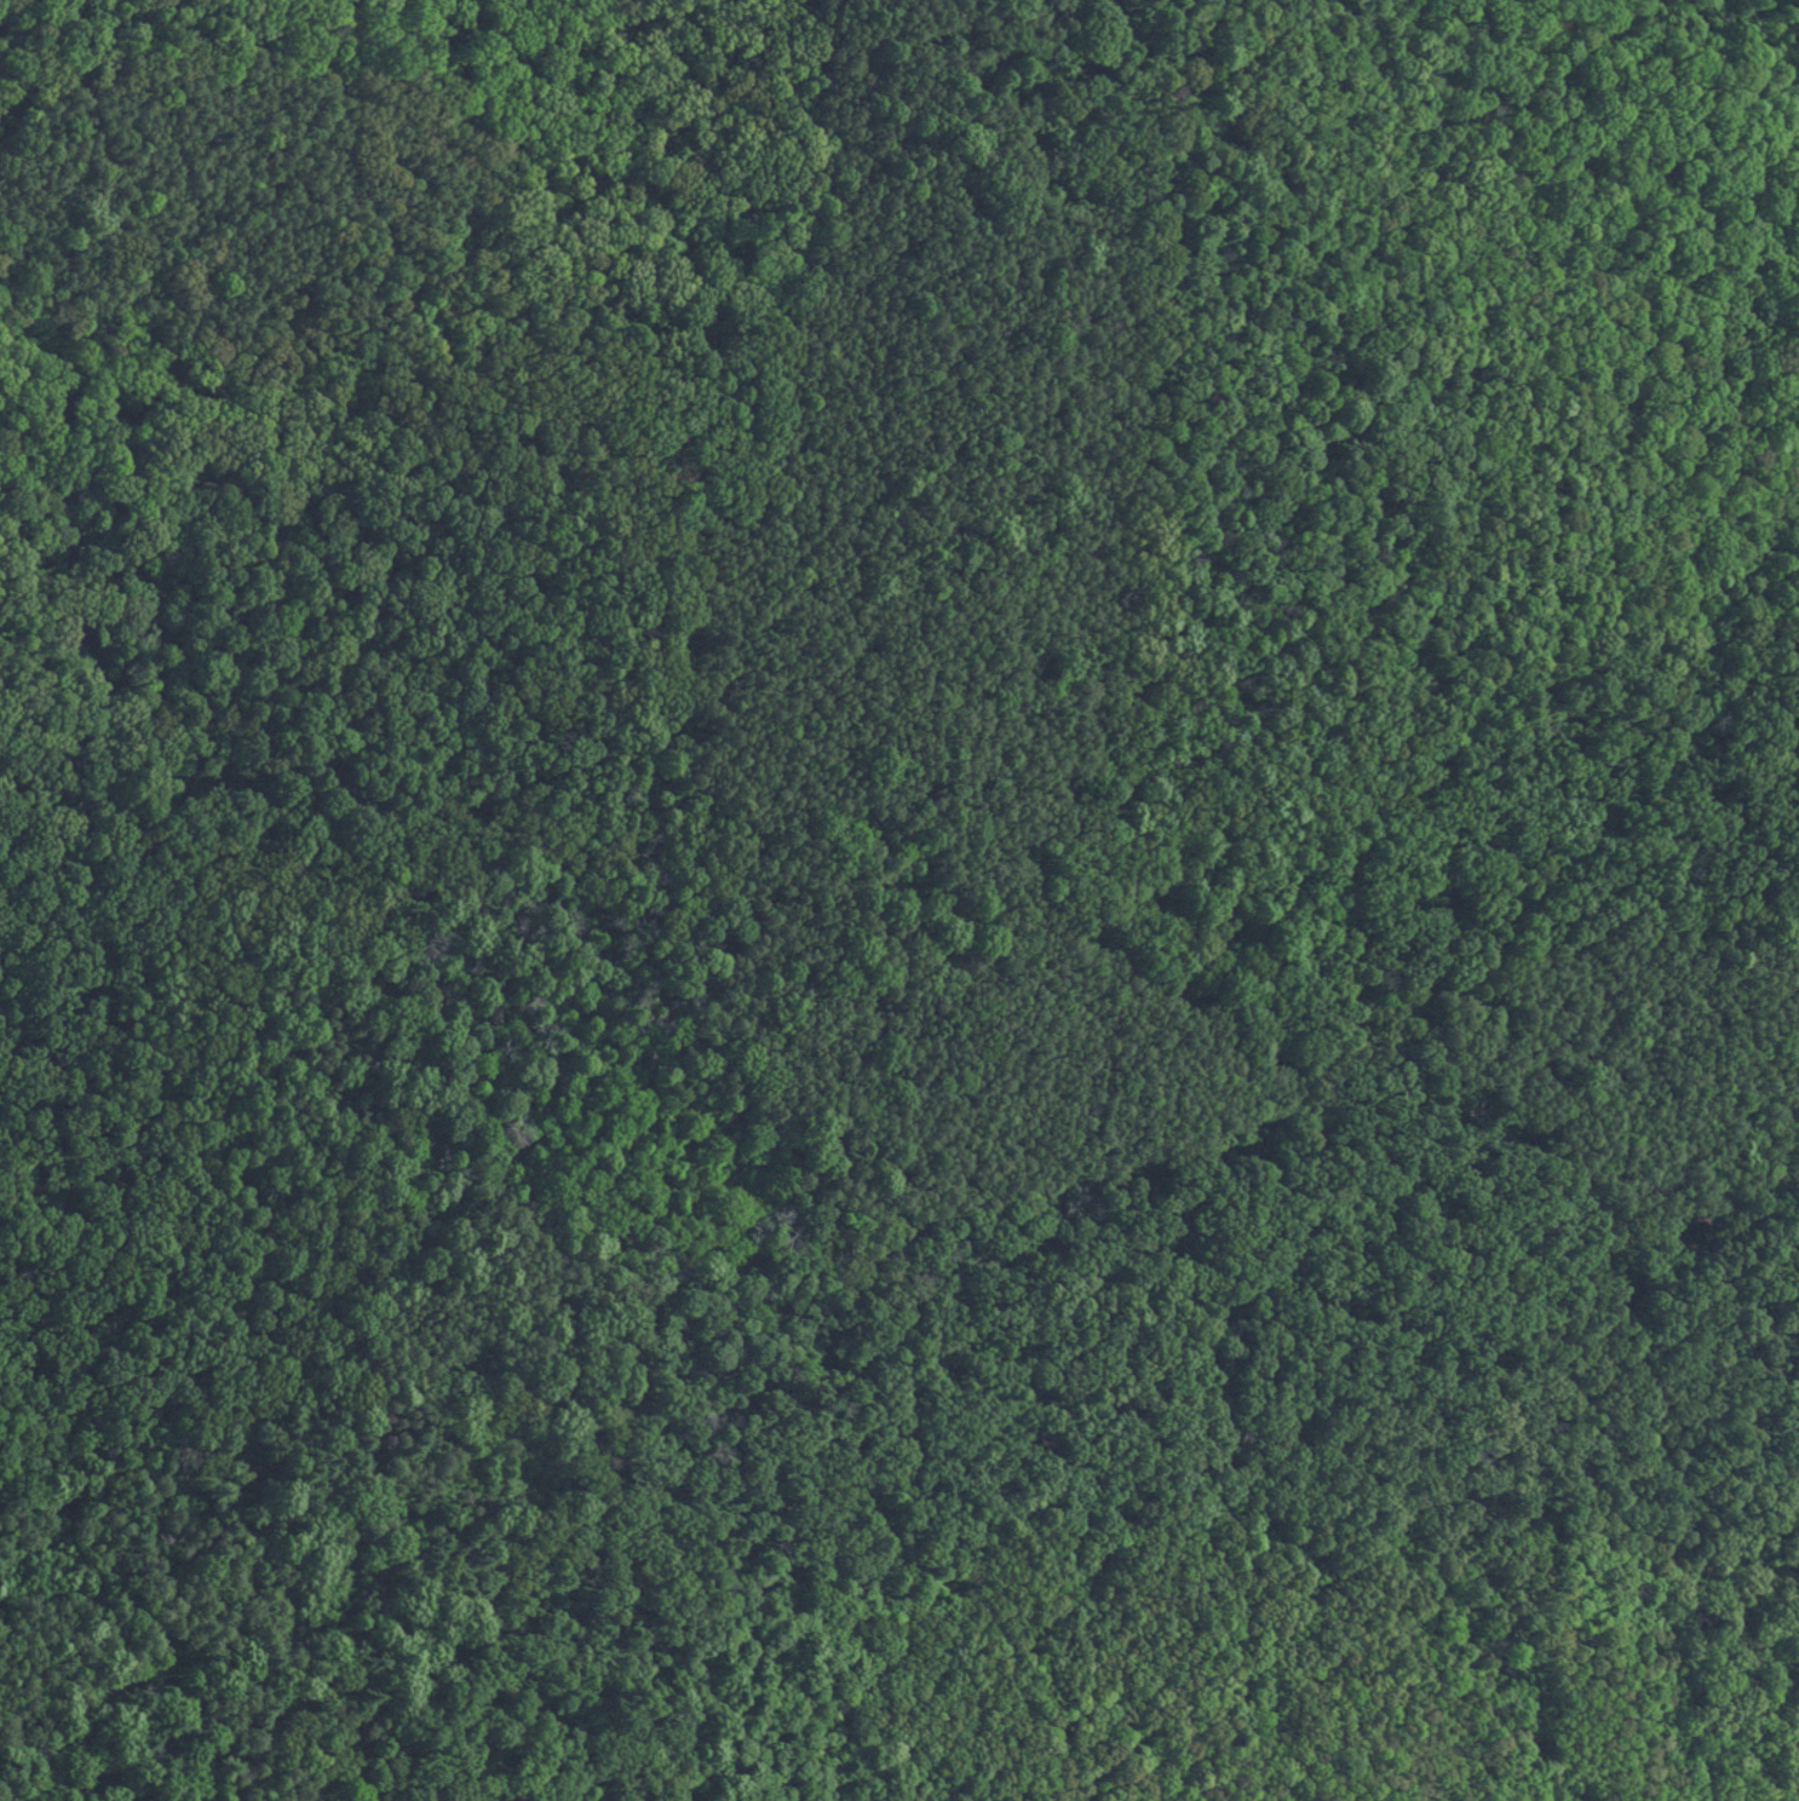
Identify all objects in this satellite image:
road: (858, 1011)

